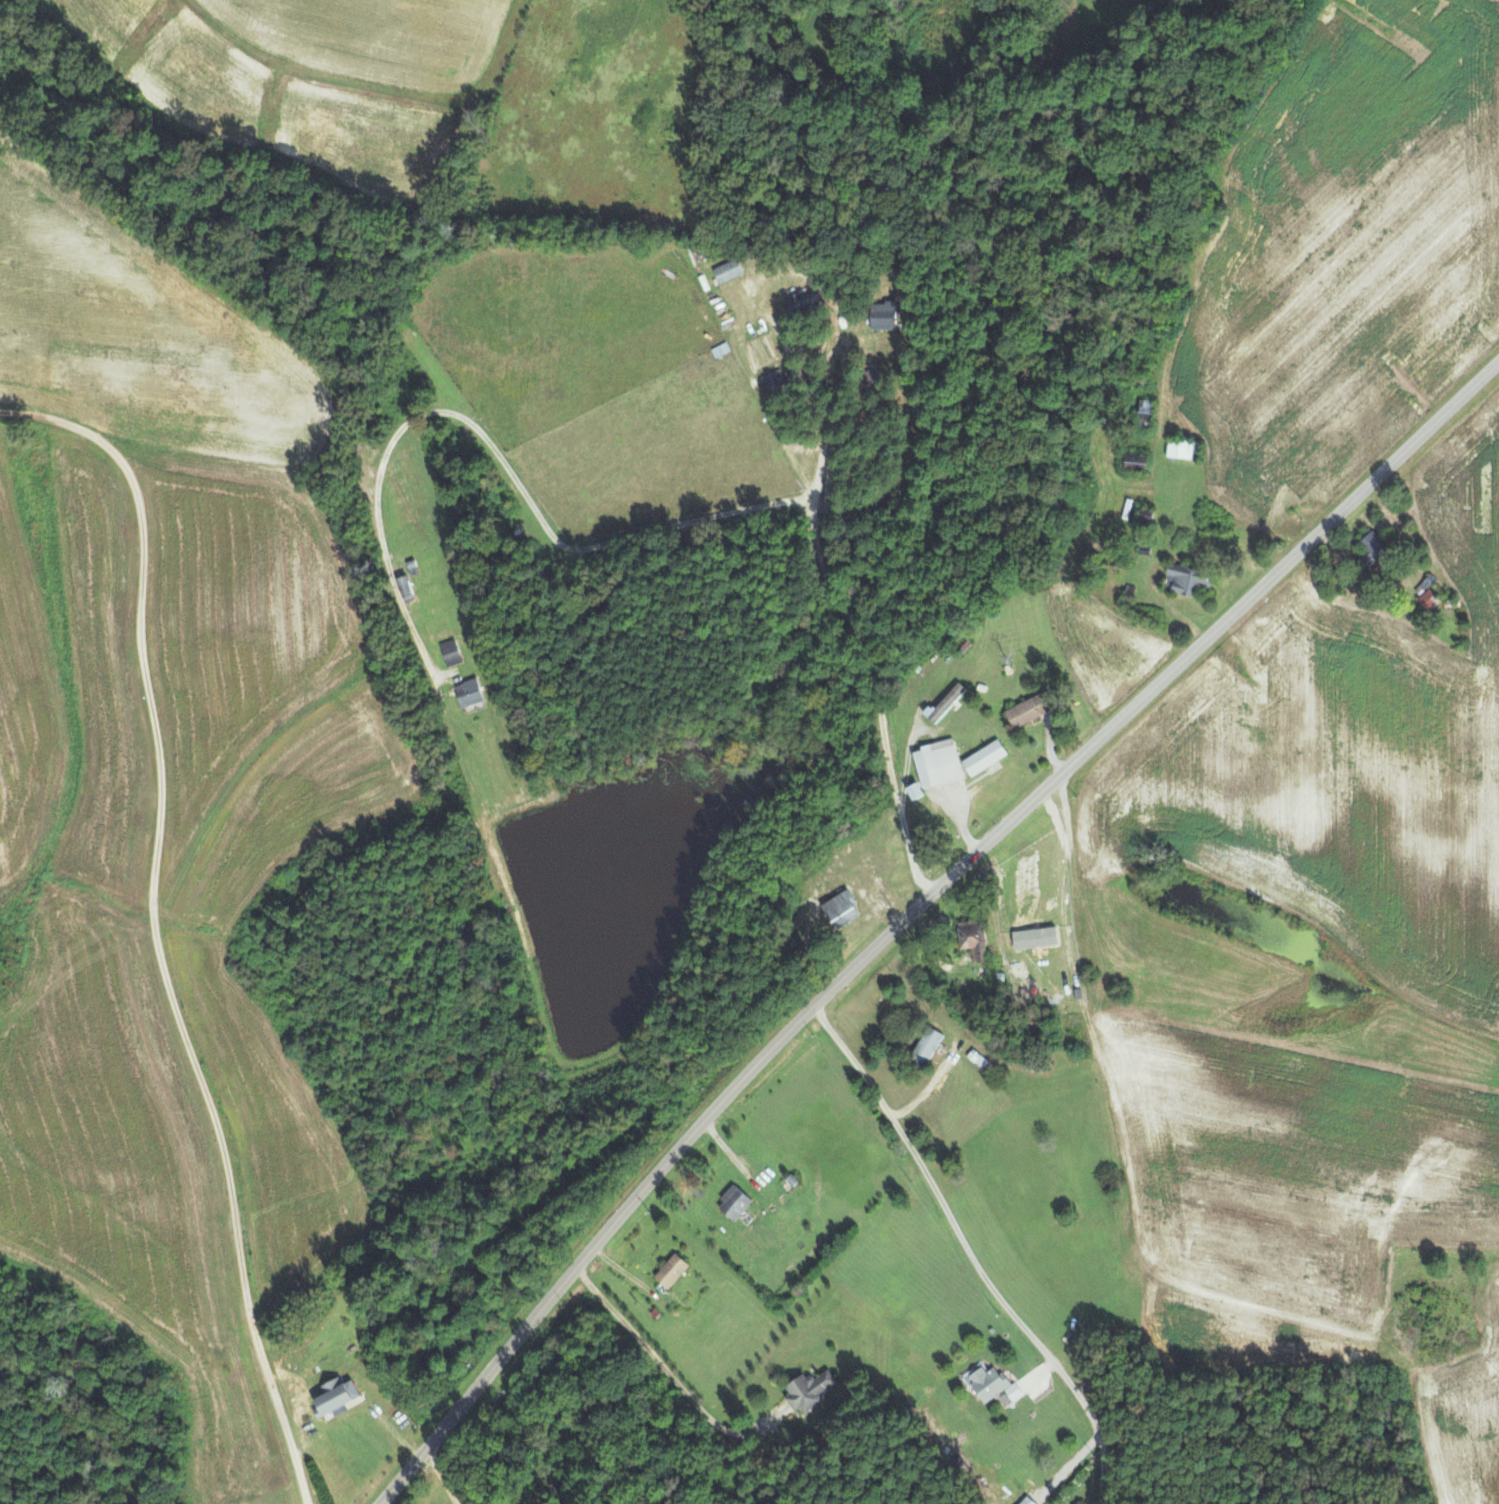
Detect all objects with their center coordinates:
building: (729, 270)
building: (805, 301)
building: (884, 315)
building: (774, 384)
building: (1183, 448)
road: (529, 500)
building: (1373, 546)
building: (1190, 578)
building: (407, 588)
building: (1428, 594)
road: (865, 637)
building: (451, 652)
building: (470, 692)
building: (946, 703)
building: (1030, 710)
building: (986, 757)
building: (939, 763)
road: (889, 773)
building: (917, 790)
building: (845, 907)
road: (914, 908)
road: (152, 923)
building: (974, 939)
building: (928, 1047)
road: (1117, 1147)
building: (736, 1203)
road: (970, 1254)
building: (673, 1270)
road: (670, 1377)
building: (993, 1384)
building: (812, 1390)
building: (338, 1396)

